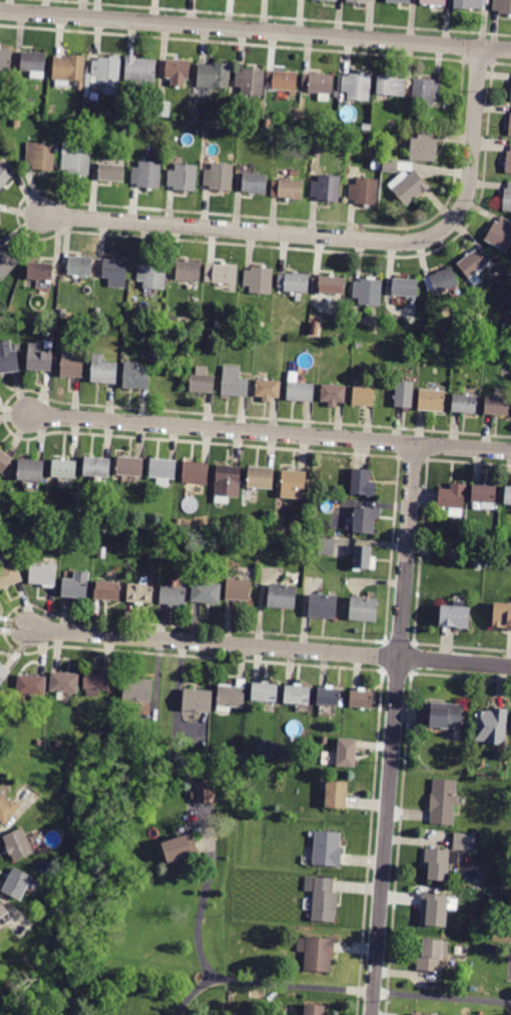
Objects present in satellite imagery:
building: (332, 0)
building: (337, 0)
building: (373, 0)
building: (359, 1)
building: (398, 1)
building: (434, 2)
building: (469, 4)
building: (502, 6)
road: (255, 30)
building: (5, 62)
building: (34, 64)
building: (140, 69)
building: (71, 70)
building: (177, 71)
building: (107, 74)
building: (213, 75)
building: (285, 80)
building: (251, 81)
building: (321, 83)
building: (357, 86)
building: (391, 86)
building: (426, 91)
building: (28, 103)
building: (163, 109)
building: (17, 122)
building: (268, 123)
building: (510, 126)
building: (125, 129)
building: (424, 147)
building: (41, 156)
building: (231, 157)
building: (76, 160)
building: (508, 162)
building: (391, 167)
building: (112, 170)
building: (295, 173)
building: (147, 175)
building: (4, 176)
building: (183, 177)
building: (219, 177)
building: (255, 183)
building: (327, 188)
building: (410, 188)
building: (287, 189)
building: (364, 191)
building: (507, 198)
building: (501, 234)
road: (338, 238)
building: (7, 262)
building: (472, 263)
building: (80, 266)
building: (40, 271)
building: (188, 271)
building: (116, 272)
building: (221, 273)
building: (153, 275)
building: (259, 280)
building: (441, 280)
building: (294, 282)
building: (328, 284)
building: (404, 287)
building: (368, 292)
building: (97, 312)
building: (54, 313)
building: (62, 313)
building: (54, 323)
building: (218, 326)
building: (87, 342)
building: (8, 358)
building: (39, 358)
building: (70, 366)
building: (103, 370)
building: (135, 376)
building: (202, 382)
building: (234, 382)
building: (268, 389)
building: (300, 391)
building: (333, 394)
building: (404, 394)
building: (363, 396)
building: (431, 400)
building: (464, 403)
building: (496, 406)
road: (270, 433)
building: (4, 461)
building: (97, 467)
building: (129, 467)
building: (63, 469)
building: (31, 470)
building: (162, 471)
building: (195, 472)
building: (260, 477)
building: (227, 483)
building: (362, 483)
building: (293, 484)
building: (484, 495)
building: (507, 495)
building: (453, 499)
building: (364, 520)
building: (296, 522)
building: (145, 532)
building: (326, 546)
building: (298, 553)
building: (362, 557)
building: (42, 574)
building: (9, 576)
building: (76, 585)
building: (238, 589)
building: (107, 590)
building: (140, 593)
building: (206, 593)
building: (172, 595)
building: (282, 596)
building: (323, 606)
building: (363, 609)
building: (503, 615)
building: (454, 616)
road: (215, 644)
road: (455, 661)
building: (3, 674)
building: (97, 680)
building: (64, 682)
building: (31, 686)
building: (137, 689)
building: (265, 692)
building: (297, 695)
building: (230, 697)
building: (328, 697)
building: (361, 699)
building: (197, 700)
building: (446, 716)
building: (491, 726)
road: (394, 729)
building: (324, 741)
building: (39, 742)
building: (58, 744)
building: (346, 753)
building: (75, 764)
building: (205, 793)
building: (227, 793)
building: (336, 795)
building: (443, 802)
building: (7, 809)
road: (16, 813)
building: (464, 842)
building: (18, 844)
building: (180, 849)
building: (327, 849)
building: (437, 864)
building: (17, 884)
building: (322, 899)
building: (3, 910)
building: (434, 910)
road: (200, 911)
building: (21, 931)
building: (317, 953)
building: (431, 955)
road: (362, 989)
road: (193, 993)
building: (315, 1009)
building: (417, 1014)

